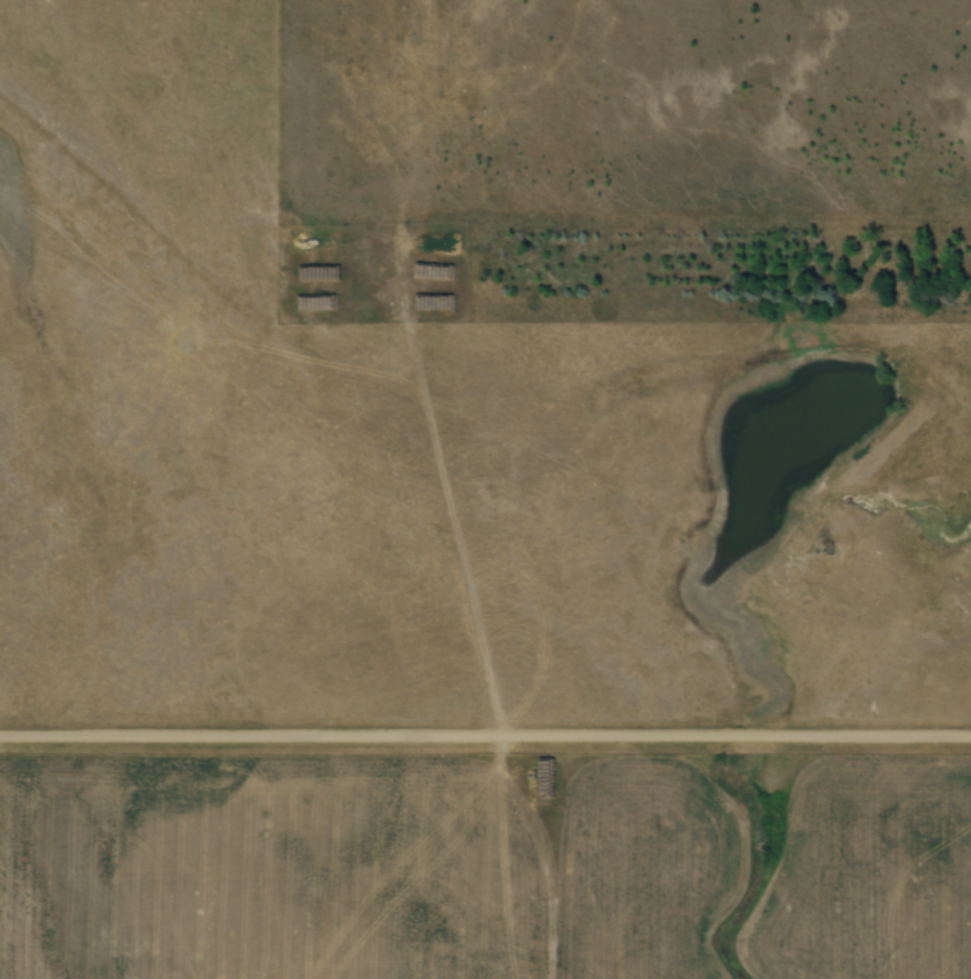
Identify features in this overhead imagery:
dam: (886, 440)
road: (485, 734)

